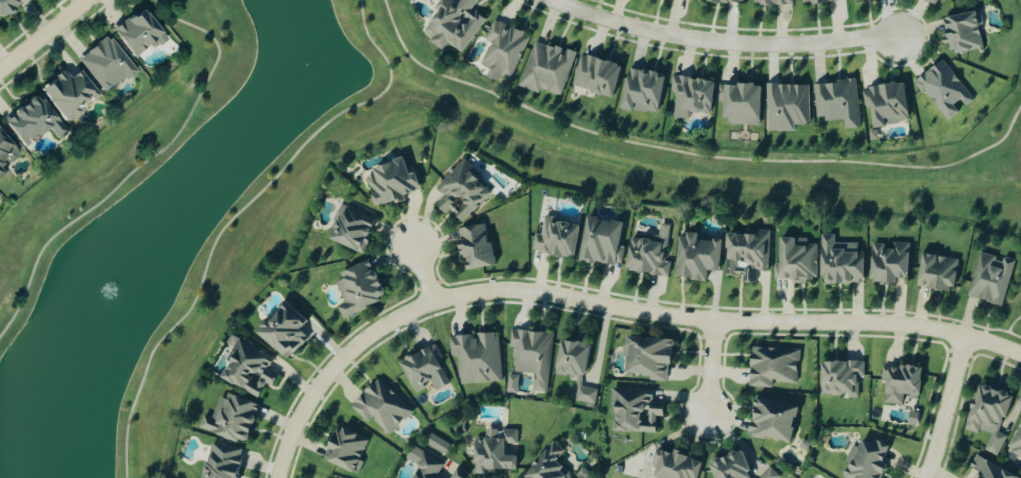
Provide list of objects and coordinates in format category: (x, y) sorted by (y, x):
building: (721, 1)
building: (818, 1)
building: (772, 2)
building: (929, 2)
building: (6, 5)
building: (453, 25)
building: (960, 32)
building: (135, 33)
road: (44, 35)
road: (722, 44)
fountain: (315, 49)
building: (502, 51)
building: (104, 65)
building: (546, 70)
building: (595, 76)
building: (943, 89)
building: (640, 90)
building: (66, 93)
building: (690, 96)
building: (739, 103)
building: (836, 103)
building: (885, 104)
building: (785, 107)
building: (30, 121)
building: (6, 151)
road: (689, 154)
road: (141, 165)
building: (2, 169)
building: (389, 183)
building: (459, 192)
road: (236, 214)
building: (350, 230)
building: (555, 239)
building: (599, 241)
building: (473, 248)
building: (744, 255)
building: (645, 256)
building: (695, 257)
building: (796, 260)
building: (838, 262)
building: (887, 264)
building: (935, 273)
road: (426, 275)
building: (989, 279)
building: (357, 289)
fountain: (108, 294)
road: (728, 322)
building: (281, 332)
building: (530, 355)
building: (475, 358)
building: (645, 358)
building: (569, 359)
building: (771, 368)
building: (246, 369)
road: (334, 370)
building: (421, 370)
road: (712, 370)
building: (838, 379)
building: (902, 382)
building: (511, 384)
building: (583, 396)
building: (381, 407)
road: (948, 408)
building: (632, 411)
building: (987, 416)
building: (229, 419)
building: (770, 421)
building: (437, 444)
building: (1015, 444)
building: (343, 450)
building: (494, 453)
building: (866, 459)
building: (221, 461)
building: (423, 463)
building: (545, 465)
building: (672, 466)
building: (728, 467)
building: (985, 470)
building: (457, 473)
building: (767, 474)

